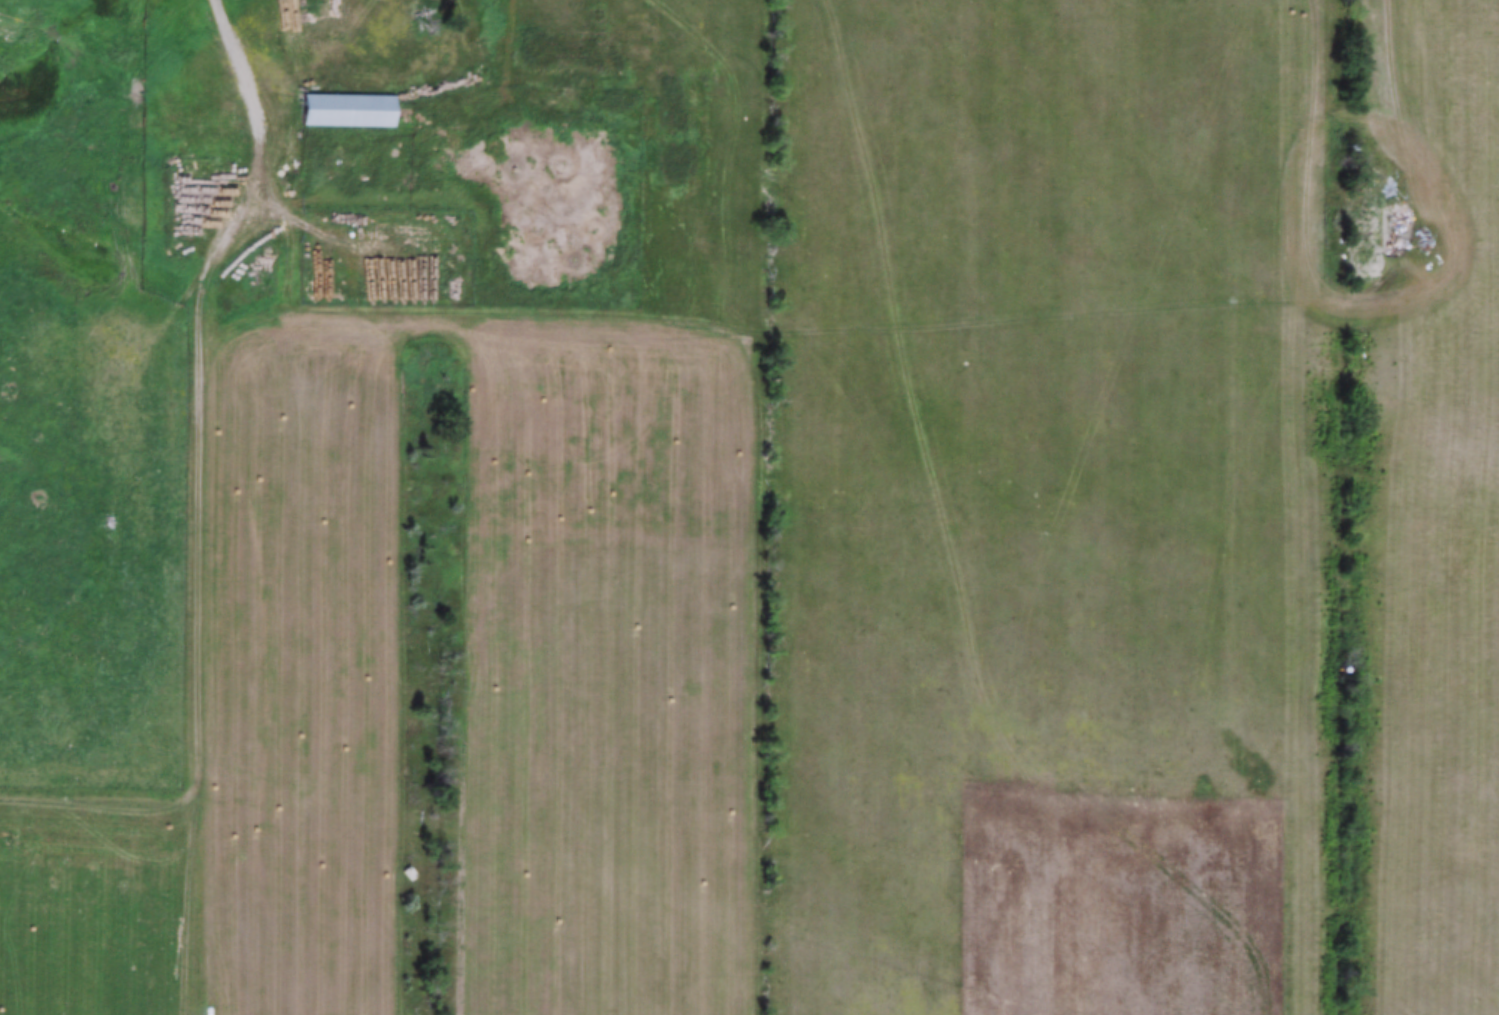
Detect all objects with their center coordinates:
road: (237, 72)
building: (349, 109)
road: (195, 452)

